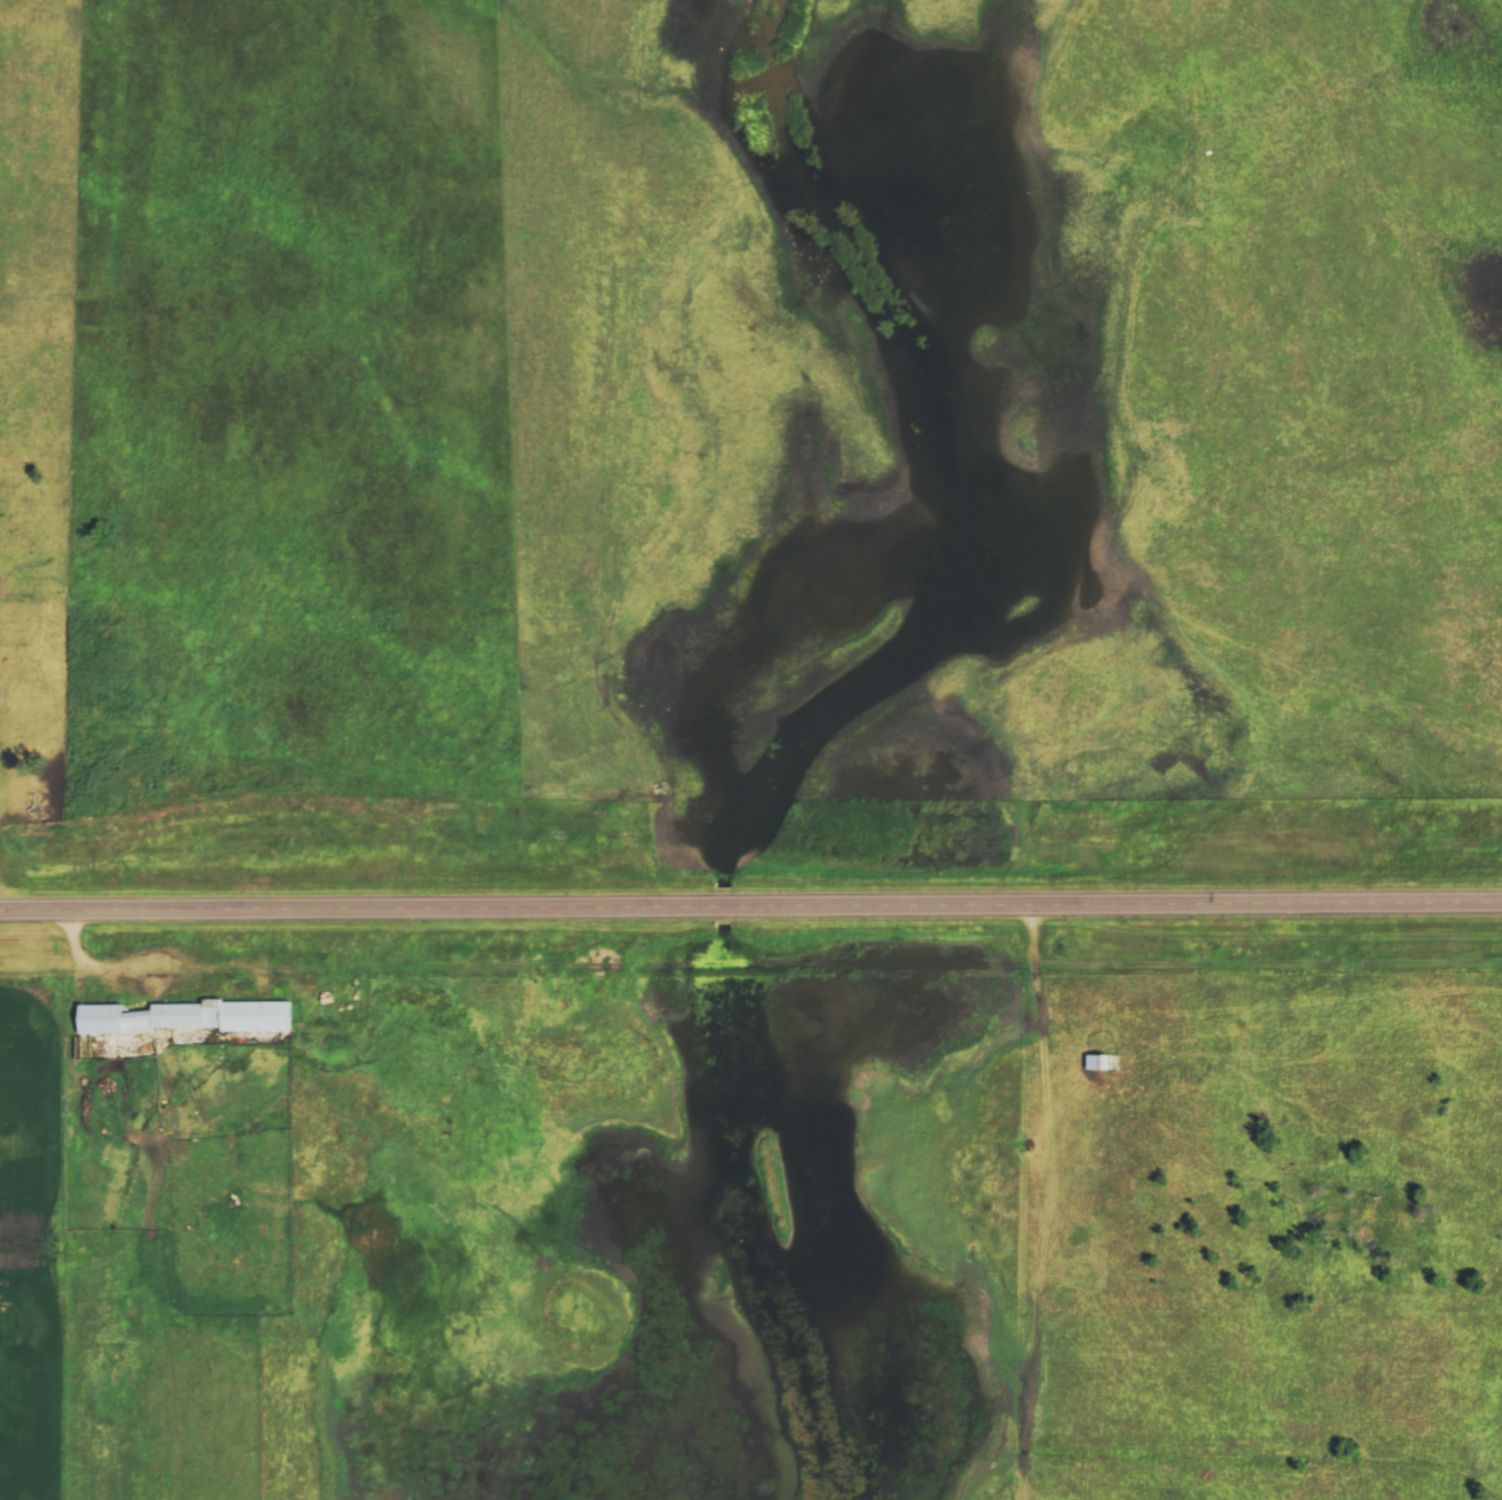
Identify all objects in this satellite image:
road: (751, 880)
building: (187, 1016)
building: (1097, 1062)

